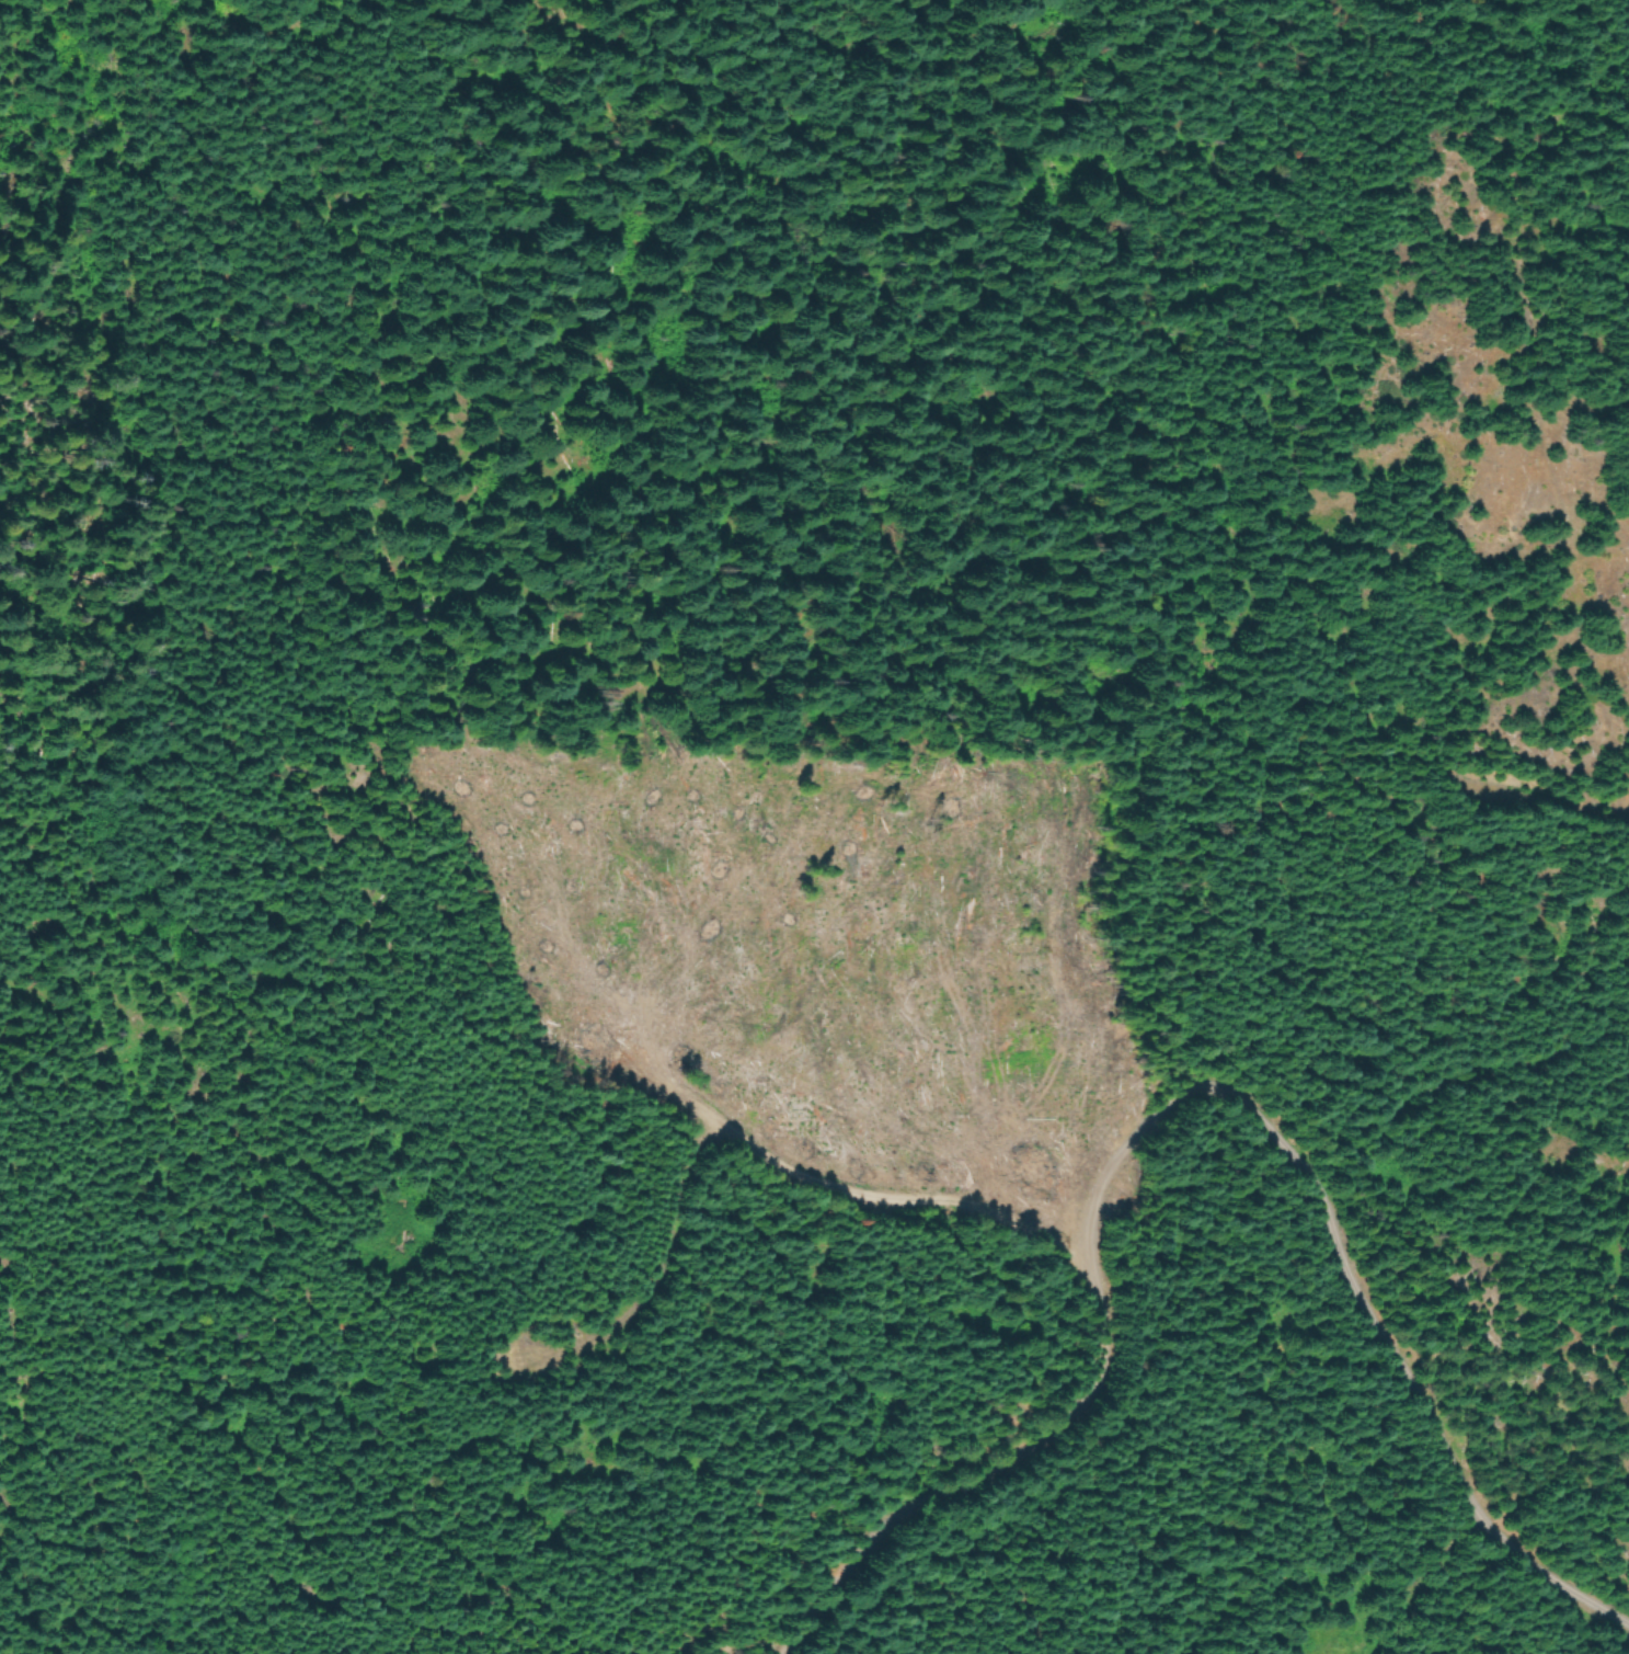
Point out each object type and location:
road: (1173, 1102)
road: (748, 1141)

